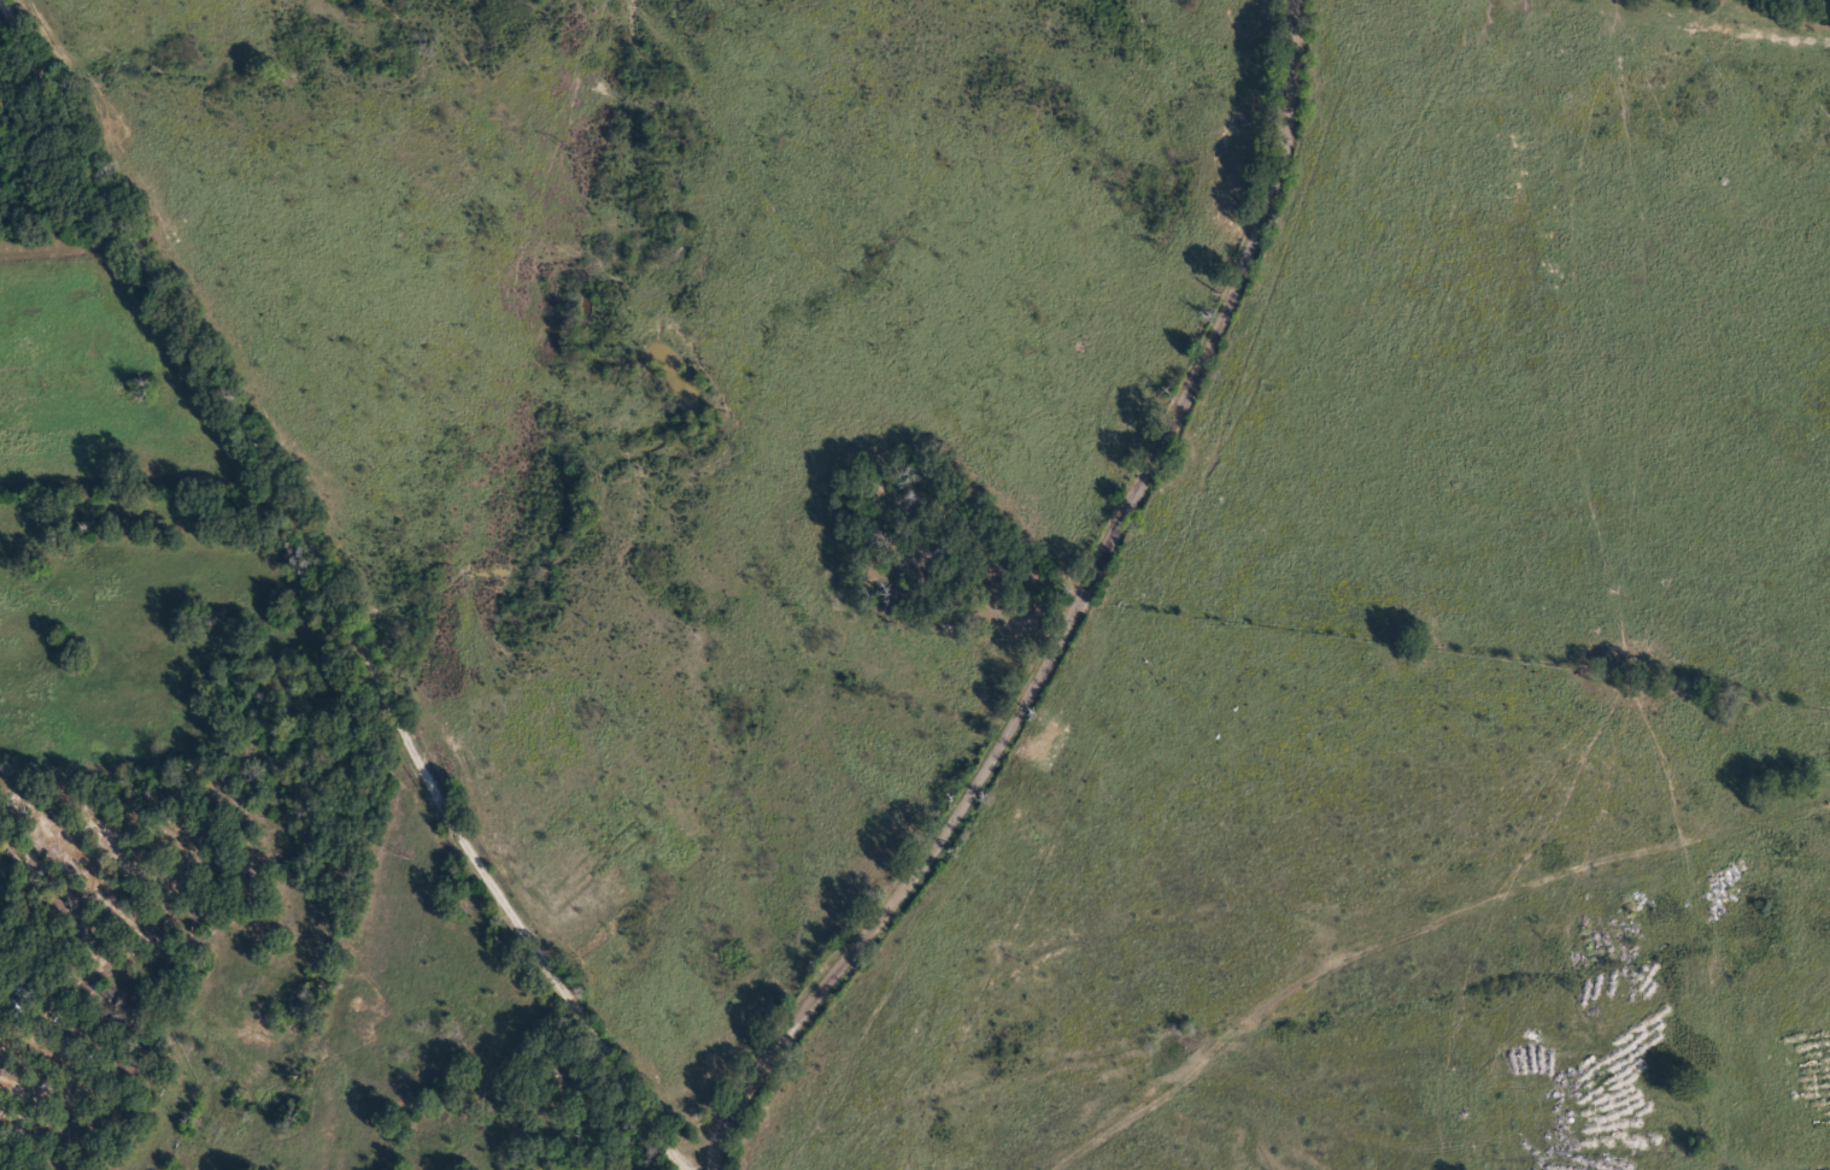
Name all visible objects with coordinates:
park: (945, 552)
road: (328, 600)
road: (1069, 623)
power tower: (409, 858)

